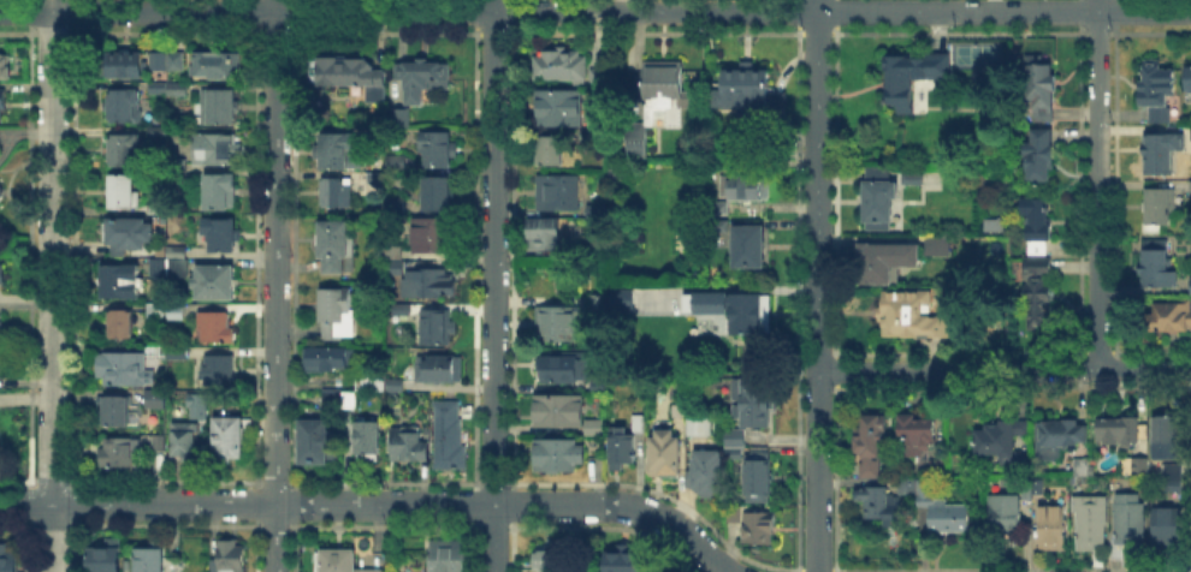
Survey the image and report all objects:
road: (594, 11)
building: (2, 62)
building: (170, 64)
building: (558, 64)
building: (940, 65)
building: (125, 66)
building: (220, 67)
building: (420, 71)
building: (351, 75)
building: (595, 75)
building: (900, 81)
building: (1189, 82)
building: (1043, 87)
building: (745, 88)
building: (663, 89)
building: (171, 90)
building: (415, 93)
building: (1157, 95)
building: (1, 96)
building: (557, 106)
building: (126, 109)
building: (220, 109)
building: (403, 119)
building: (583, 131)
building: (159, 133)
building: (1190, 133)
building: (633, 137)
building: (549, 148)
building: (439, 150)
building: (126, 153)
building: (218, 153)
building: (337, 153)
building: (1162, 154)
building: (1041, 156)
building: (398, 161)
building: (179, 171)
building: (878, 172)
building: (912, 178)
road: (1096, 183)
road: (816, 184)
building: (741, 185)
building: (555, 189)
building: (1190, 189)
building: (220, 193)
building: (125, 195)
building: (338, 195)
building: (439, 196)
building: (881, 204)
building: (716, 205)
building: (594, 207)
building: (1162, 208)
building: (156, 210)
building: (1037, 220)
building: (717, 224)
building: (994, 224)
building: (540, 232)
building: (130, 238)
building: (223, 238)
building: (438, 238)
building: (936, 245)
building: (746, 246)
building: (593, 248)
building: (339, 249)
building: (1038, 249)
building: (178, 252)
building: (883, 258)
building: (155, 266)
building: (1039, 266)
building: (1159, 266)
building: (180, 268)
building: (395, 268)
building: (0, 270)
building: (123, 284)
building: (1189, 284)
building: (218, 285)
road: (274, 285)
road: (493, 285)
road: (52, 286)
building: (427, 290)
building: (620, 297)
building: (1038, 302)
building: (595, 303)
building: (731, 306)
building: (155, 314)
building: (177, 314)
building: (338, 316)
building: (1171, 318)
building: (913, 320)
building: (553, 321)
building: (123, 327)
building: (217, 329)
building: (438, 329)
building: (330, 361)
building: (559, 365)
road: (1003, 365)
building: (125, 370)
building: (442, 371)
building: (220, 373)
building: (595, 383)
building: (372, 385)
building: (395, 385)
building: (751, 398)
building: (331, 400)
building: (156, 401)
building: (351, 401)
building: (195, 404)
building: (208, 407)
building: (556, 407)
building: (675, 407)
building: (117, 413)
building: (636, 421)
building: (593, 424)
building: (697, 424)
building: (917, 430)
building: (1120, 431)
building: (1167, 431)
building: (733, 435)
building: (451, 437)
building: (1002, 437)
building: (1060, 437)
building: (368, 439)
building: (231, 442)
building: (186, 443)
building: (161, 445)
building: (318, 445)
building: (620, 446)
building: (410, 447)
building: (871, 449)
building: (555, 452)
building: (660, 452)
building: (731, 452)
building: (119, 454)
building: (1140, 463)
building: (937, 464)
building: (1080, 465)
building: (704, 470)
road: (817, 470)
building: (754, 473)
building: (1173, 475)
building: (905, 484)
building: (1033, 487)
building: (925, 489)
building: (877, 504)
road: (373, 505)
building: (729, 512)
building: (1007, 514)
building: (952, 519)
building: (1126, 519)
building: (1088, 520)
building: (756, 524)
building: (1165, 525)
building: (1051, 528)
building: (449, 556)
building: (6, 558)
building: (108, 558)
building: (232, 558)
building: (152, 560)
building: (338, 561)
building: (551, 561)
building: (624, 562)

